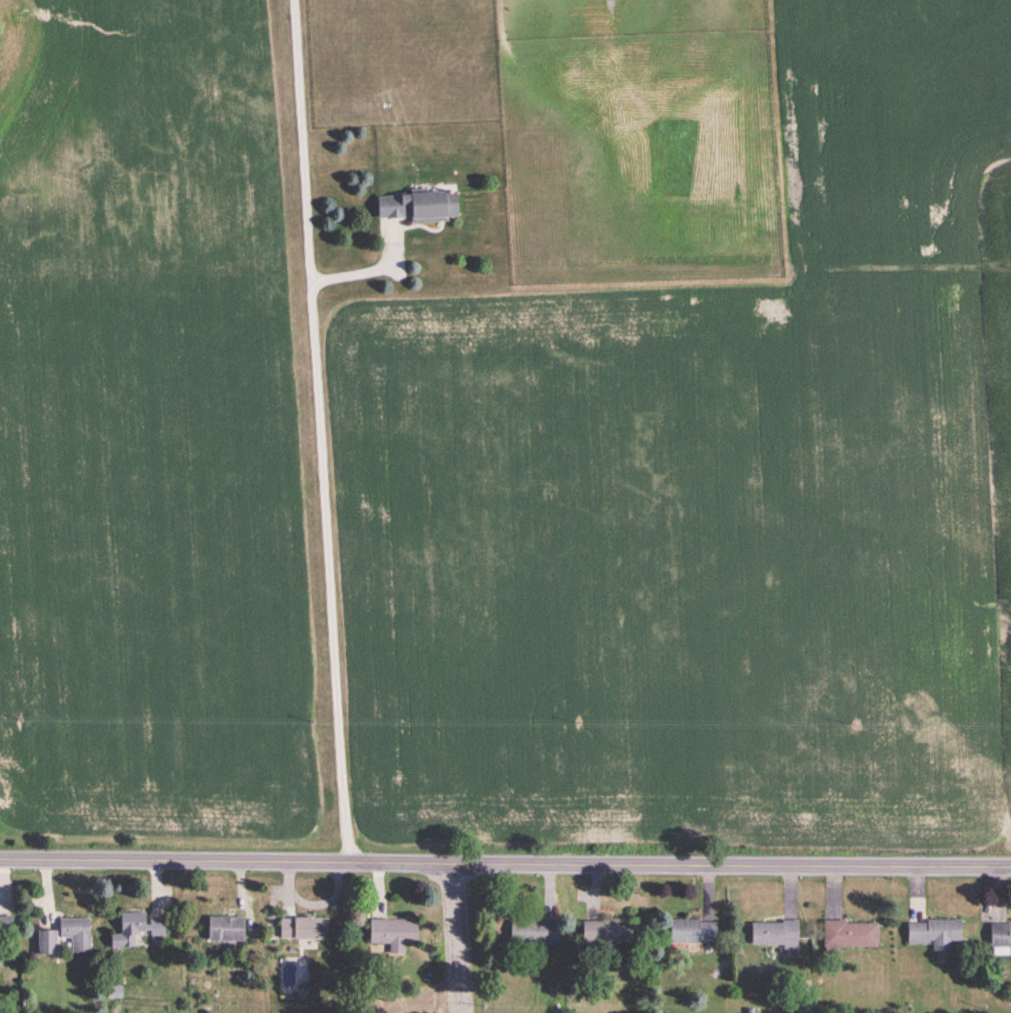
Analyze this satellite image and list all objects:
building: (418, 203)
road: (362, 265)
crop: (147, 429)
road: (317, 430)
crop: (711, 500)
road: (505, 862)
road: (2, 868)
road: (156, 888)
road: (378, 889)
road: (548, 890)
road: (790, 890)
road: (594, 891)
road: (833, 891)
road: (46, 892)
road: (706, 892)
road: (916, 892)
road: (995, 892)
road: (243, 896)
road: (1, 903)
road: (312, 903)
building: (6, 923)
building: (304, 925)
building: (225, 926)
building: (136, 927)
building: (607, 929)
building: (691, 929)
building: (76, 930)
building: (534, 930)
building: (393, 931)
building: (935, 931)
building: (775, 932)
building: (847, 933)
building: (1000, 936)
road: (460, 937)
building: (47, 939)
building: (110, 992)
building: (806, 1008)
building: (749, 1010)
building: (207, 1011)

